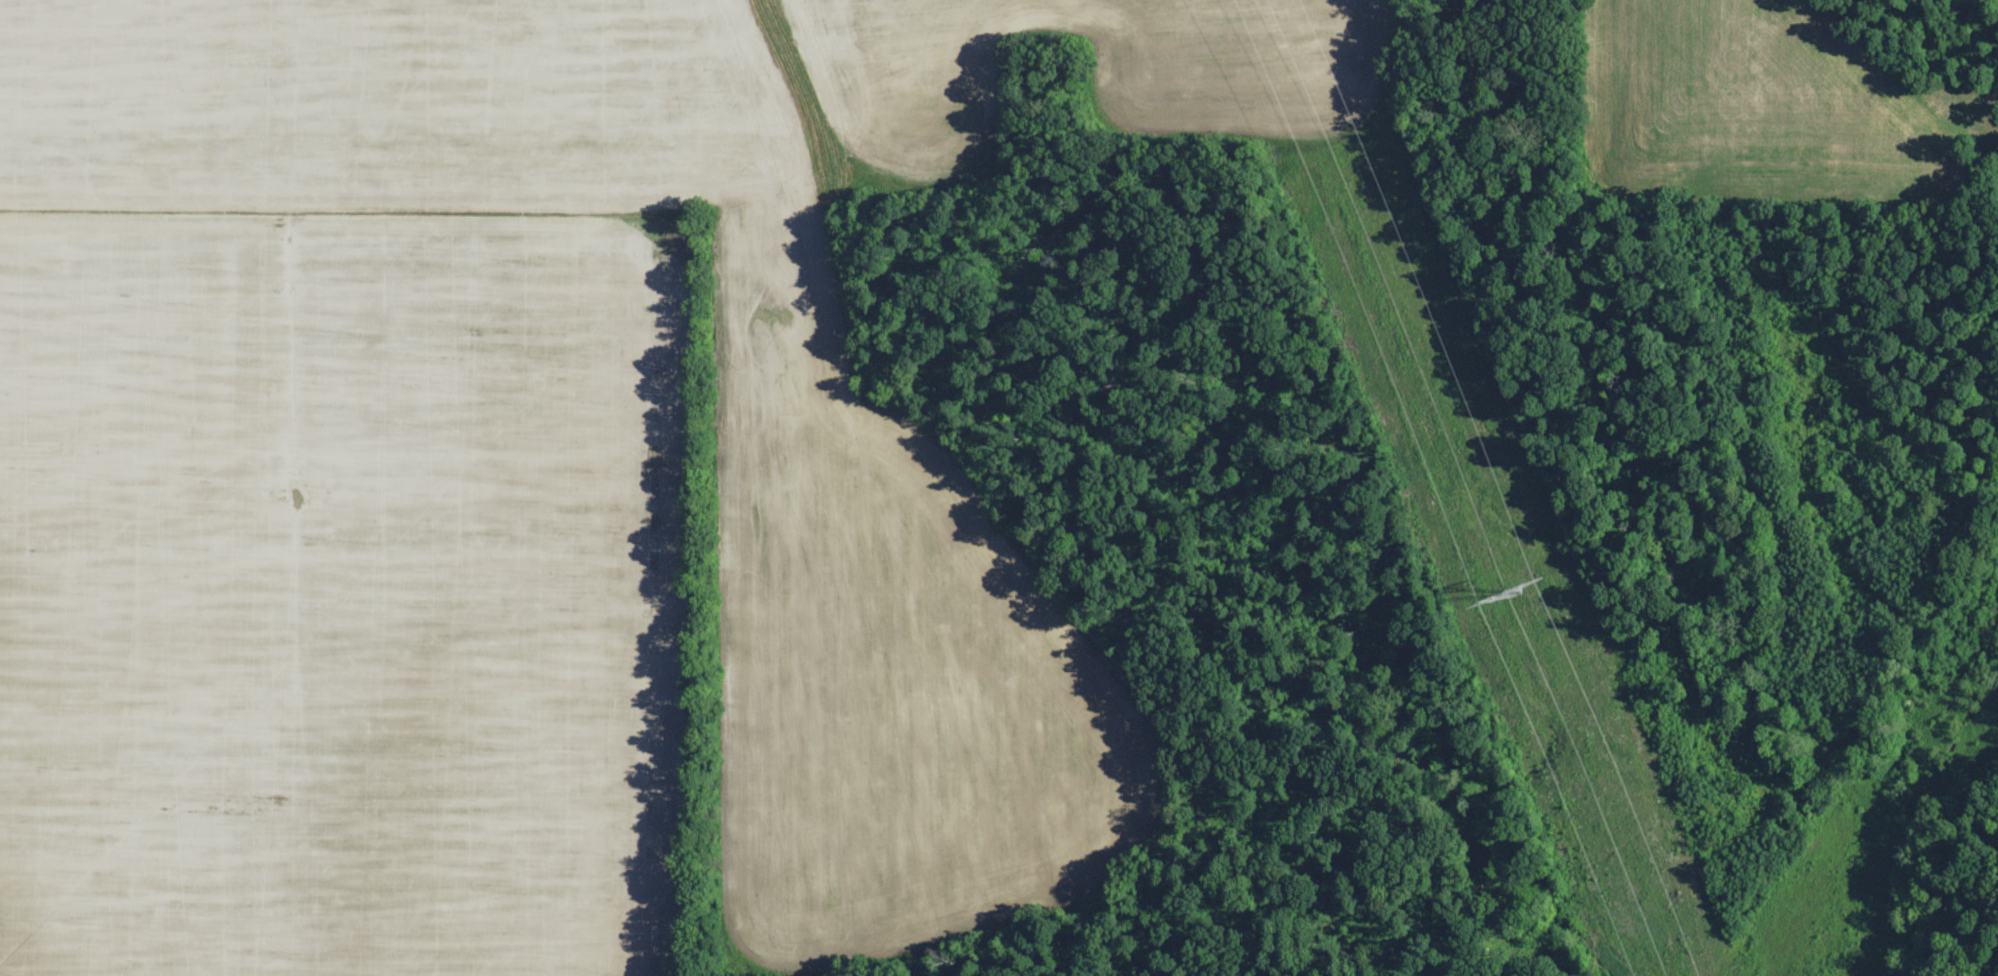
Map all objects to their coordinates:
power tower: (1511, 589)

